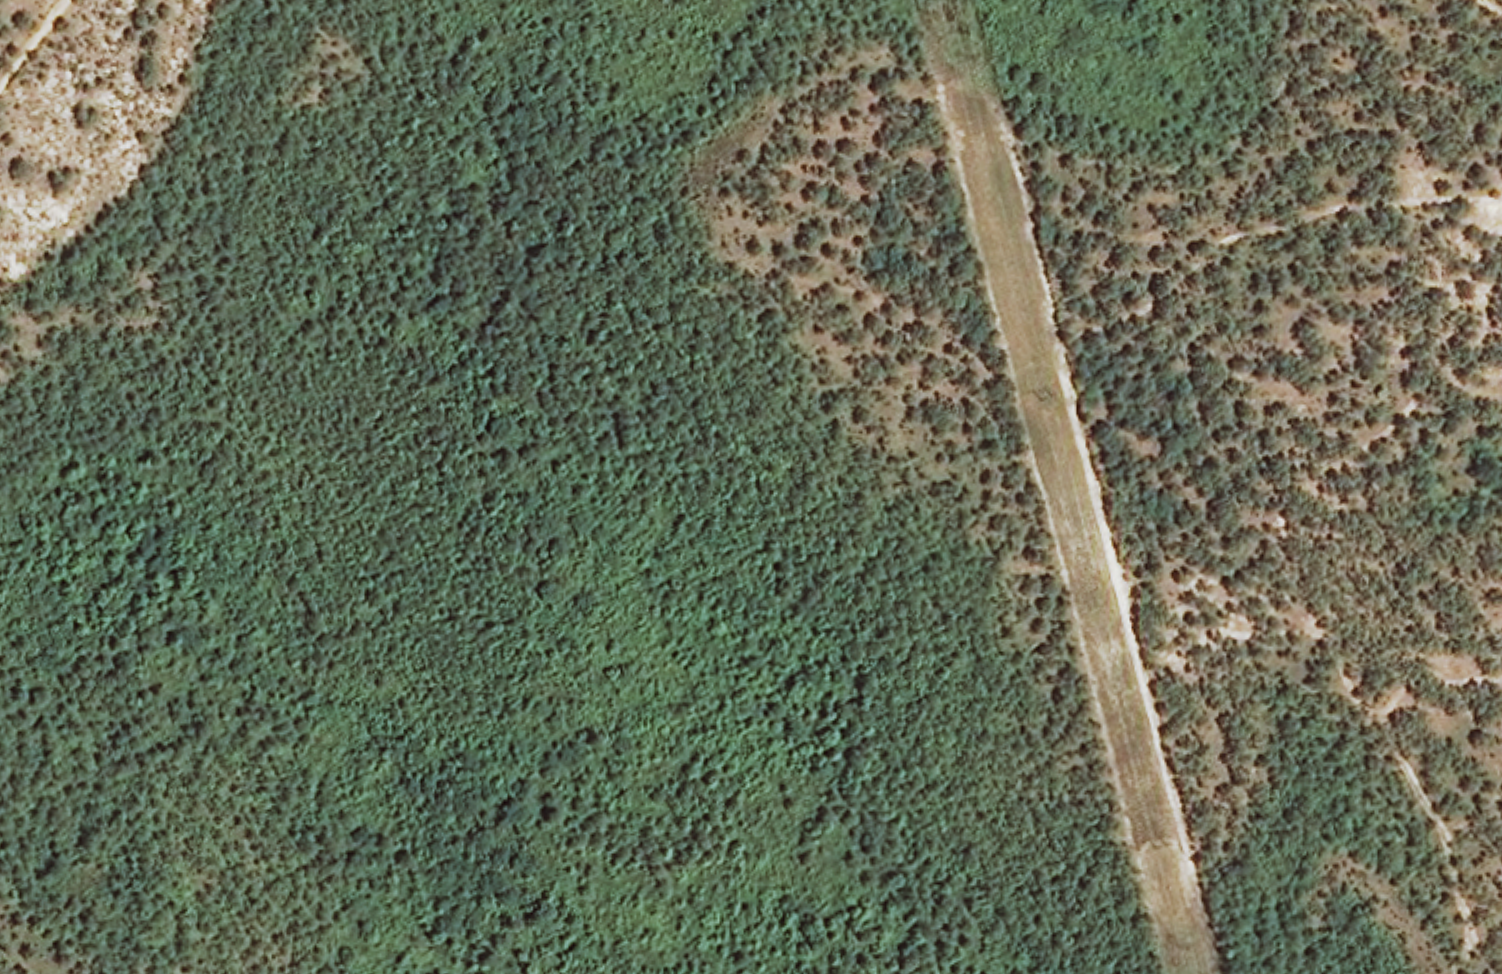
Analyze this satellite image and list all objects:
power tower: (1043, 394)
power tower: (1157, 842)

